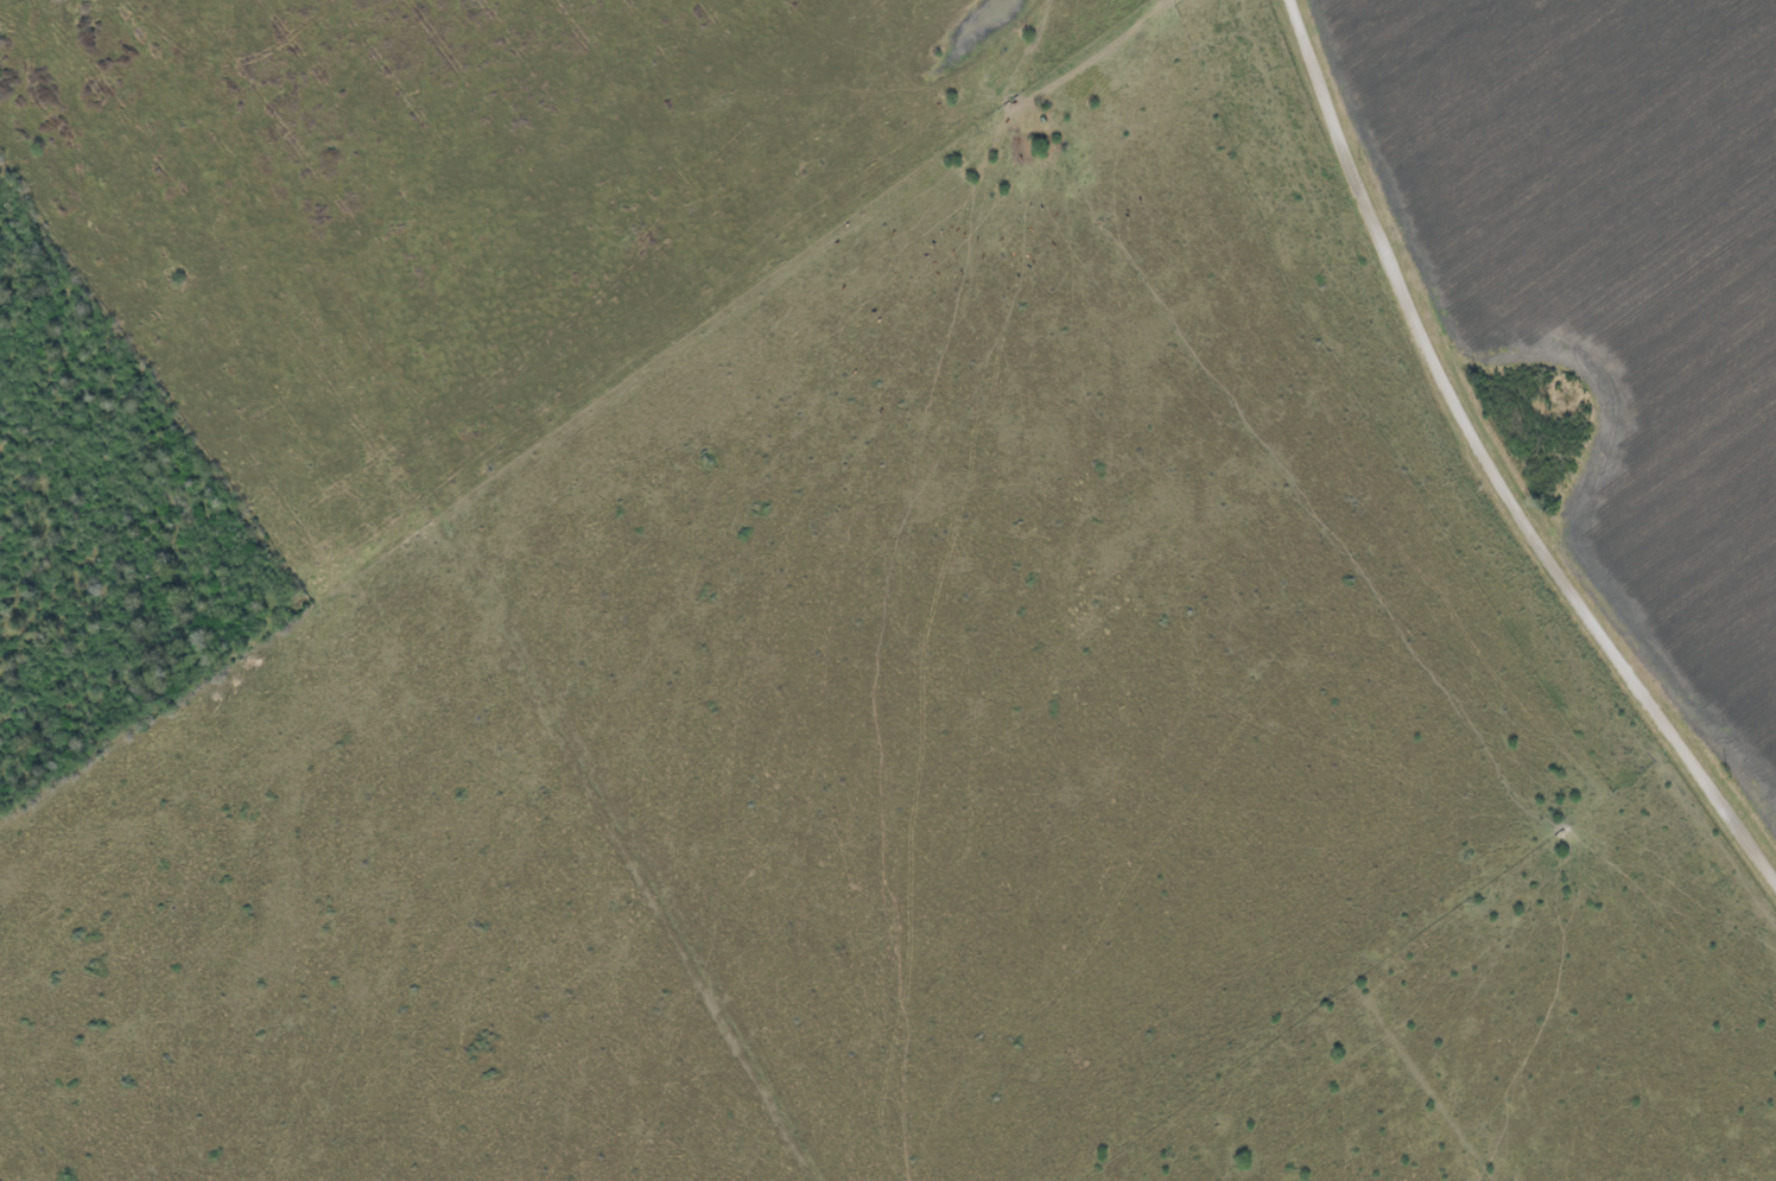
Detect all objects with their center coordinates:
road: (1490, 461)

